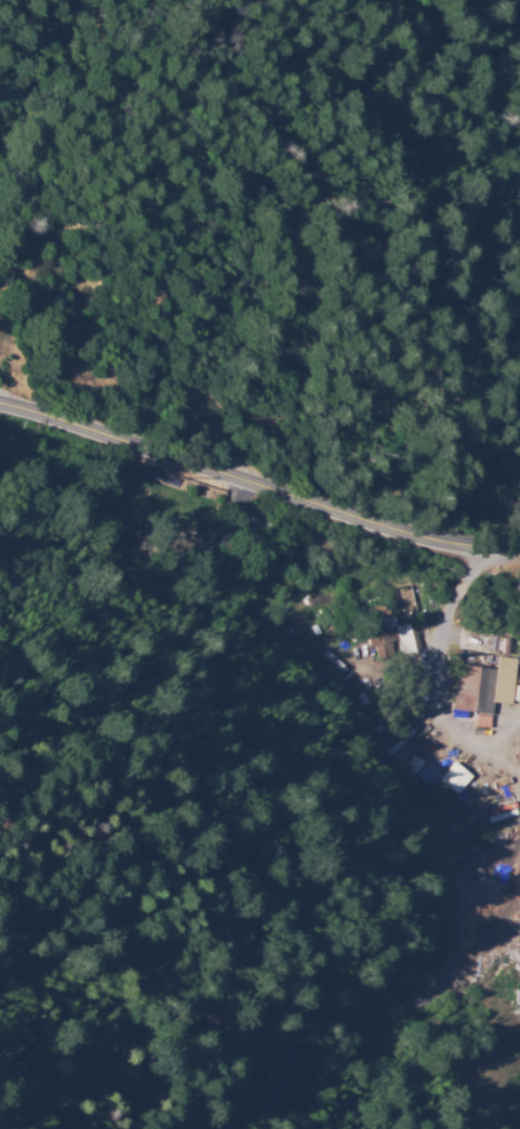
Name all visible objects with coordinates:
road: (327, 221)
road: (258, 487)
building: (267, 525)
building: (190, 551)
building: (395, 636)
road: (436, 675)
building: (518, 679)
building: (484, 686)
building: (513, 693)
building: (399, 747)
road: (505, 764)
building: (425, 765)
building: (425, 775)
building: (452, 777)

